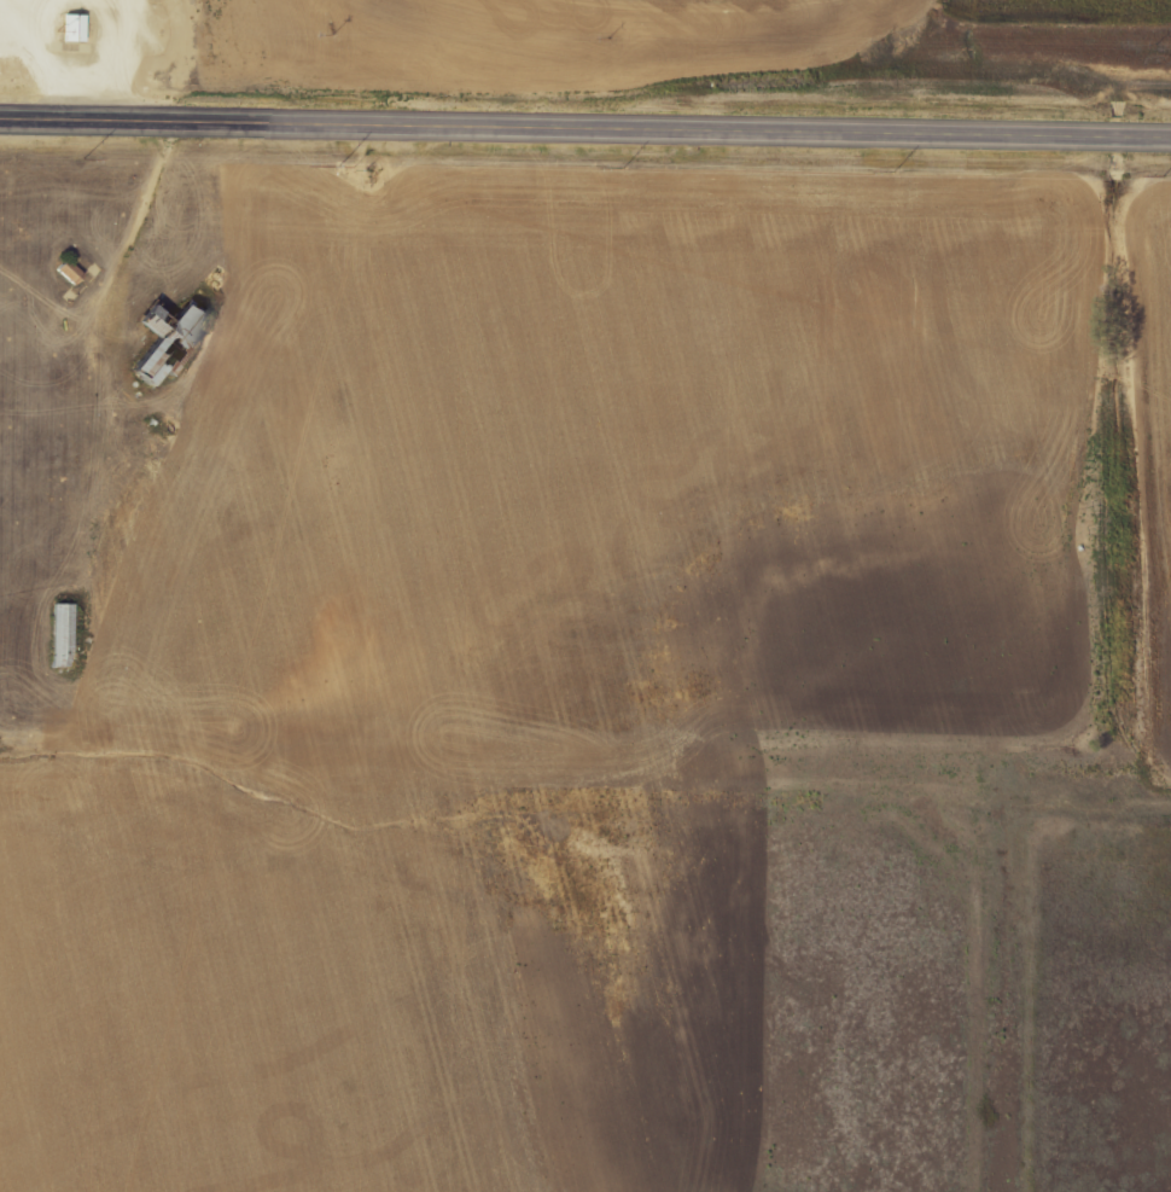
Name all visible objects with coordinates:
building: (77, 28)
road: (584, 129)
building: (72, 272)

